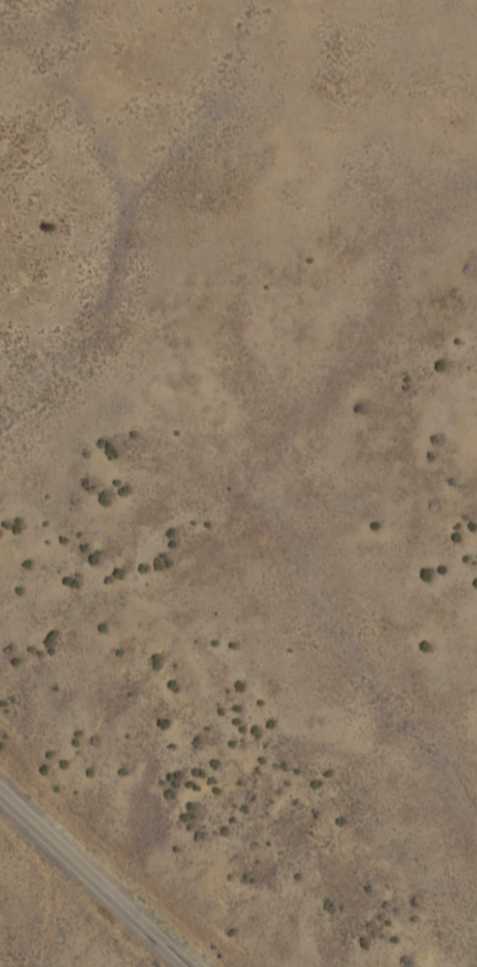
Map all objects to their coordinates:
road: (95, 878)

